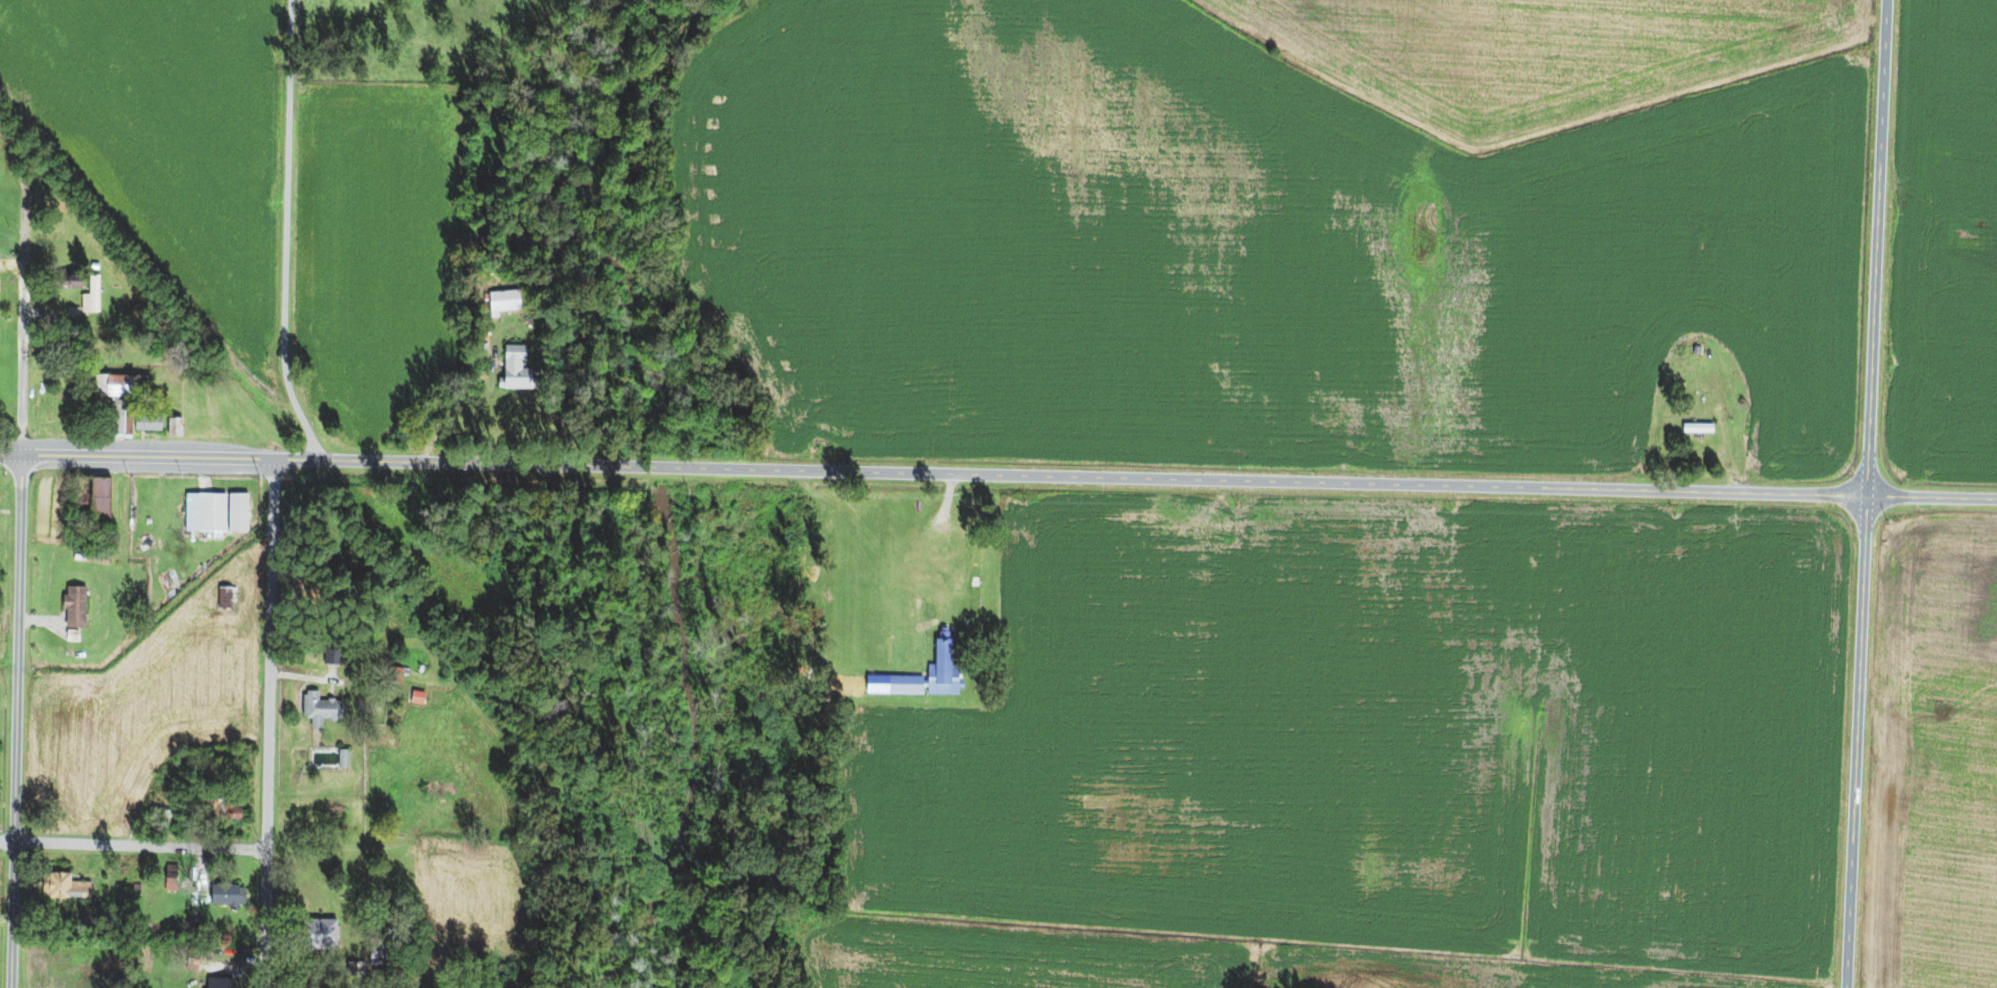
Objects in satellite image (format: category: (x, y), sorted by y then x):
crop: (166, 132)
road: (287, 235)
crop: (379, 252)
road: (146, 253)
road: (12, 264)
building: (95, 265)
building: (65, 283)
building: (502, 293)
building: (93, 297)
road: (46, 312)
building: (75, 313)
road: (23, 314)
building: (55, 344)
building: (485, 350)
building: (519, 371)
road: (555, 387)
building: (122, 400)
building: (150, 424)
building: (176, 428)
building: (1696, 428)
road: (333, 461)
road: (1332, 483)
road: (1866, 493)
building: (94, 507)
building: (207, 514)
building: (239, 514)
building: (227, 598)
building: (77, 608)
road: (47, 620)
crop: (1, 636)
building: (74, 636)
building: (335, 657)
building: (940, 668)
building: (422, 670)
building: (399, 675)
road: (309, 676)
building: (356, 676)
building: (902, 686)
building: (420, 698)
crop: (153, 703)
building: (321, 709)
road: (16, 721)
road: (271, 724)
building: (345, 760)
building: (224, 815)
building: (164, 818)
building: (170, 818)
road: (134, 846)
road: (318, 852)
road: (200, 869)
road: (189, 877)
building: (172, 878)
crop: (1, 882)
building: (138, 888)
building: (69, 889)
building: (229, 897)
crop: (473, 900)
road: (6, 917)
building: (120, 924)
building: (85, 930)
road: (294, 930)
building: (322, 937)
building: (196, 959)
road: (242, 968)
building: (352, 970)
building: (224, 984)
road: (332, 987)

